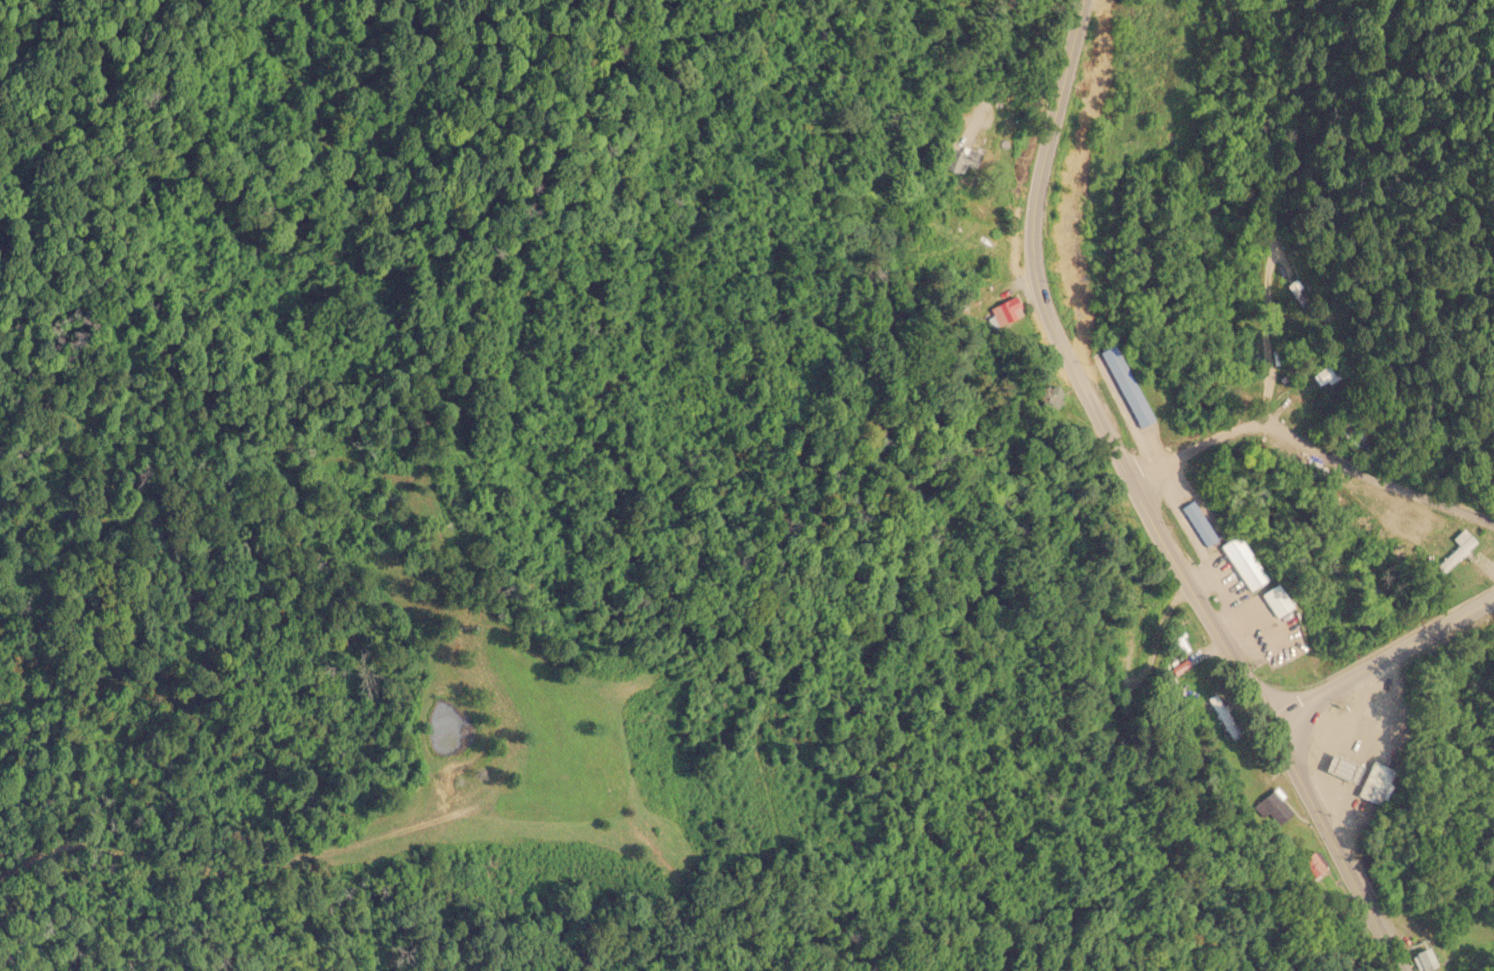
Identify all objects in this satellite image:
building: (958, 160)
road: (1035, 189)
road: (1189, 224)
building: (1303, 294)
building: (1322, 375)
building: (1126, 385)
building: (1049, 396)
building: (1349, 436)
road: (1314, 445)
building: (1198, 523)
building: (1452, 548)
building: (1243, 562)
building: (1275, 600)
road: (1383, 659)
road: (1242, 670)
building: (1169, 681)
building: (1341, 768)
building: (1376, 783)
building: (1275, 804)
building: (1312, 863)
building: (1421, 960)

